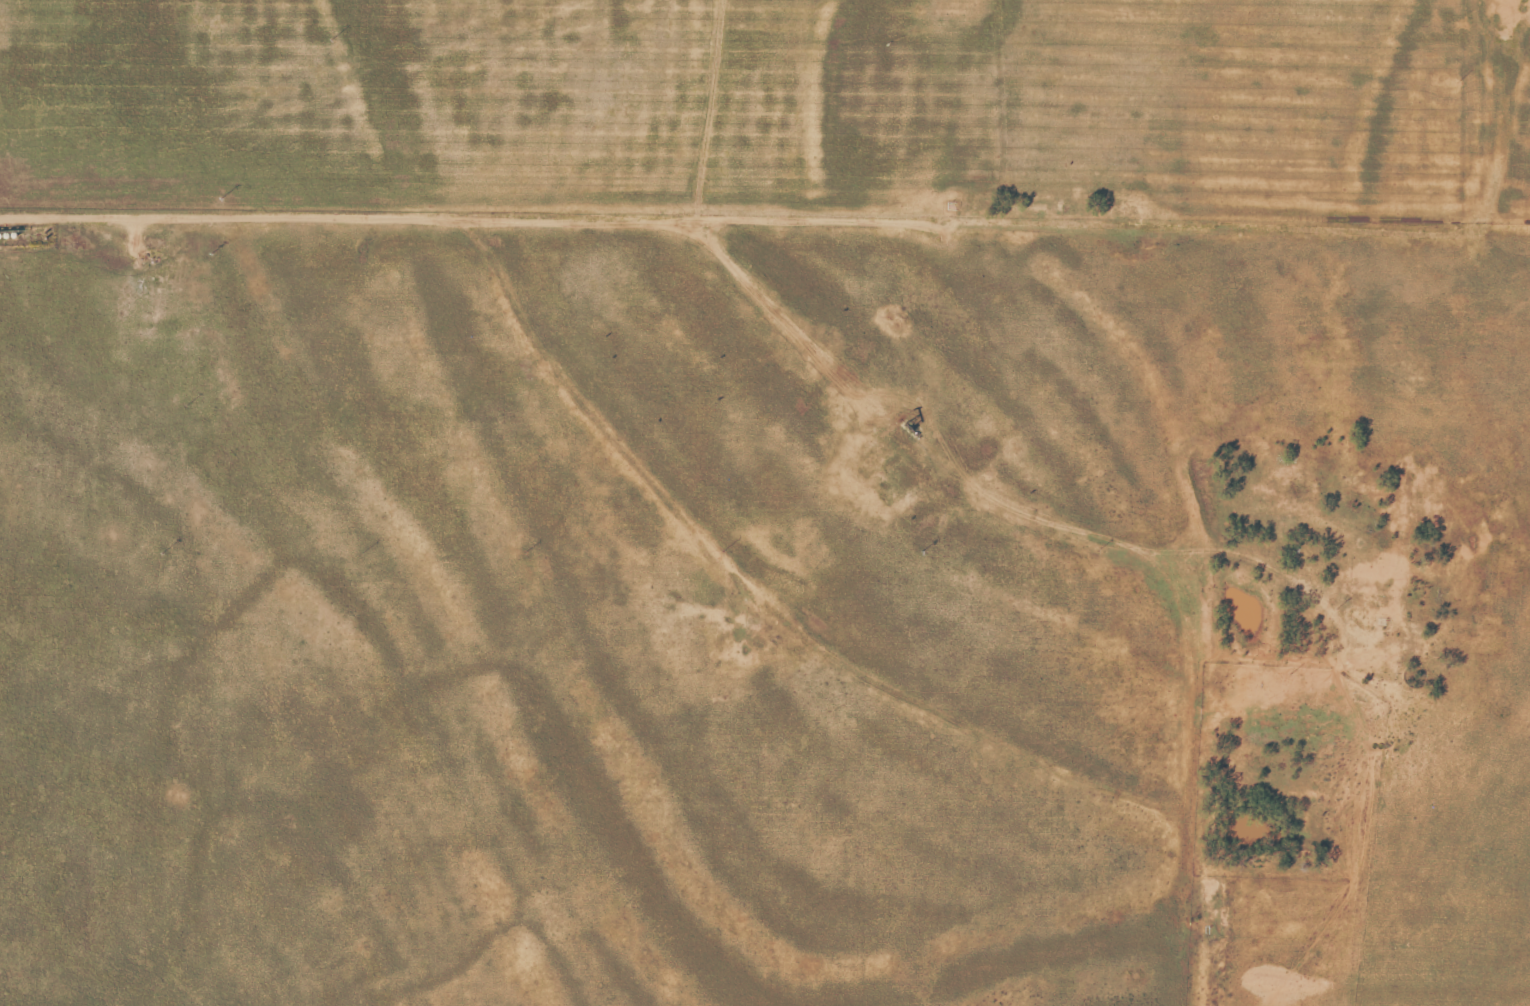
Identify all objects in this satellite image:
road: (366, 203)
road: (1075, 207)
road: (973, 471)

